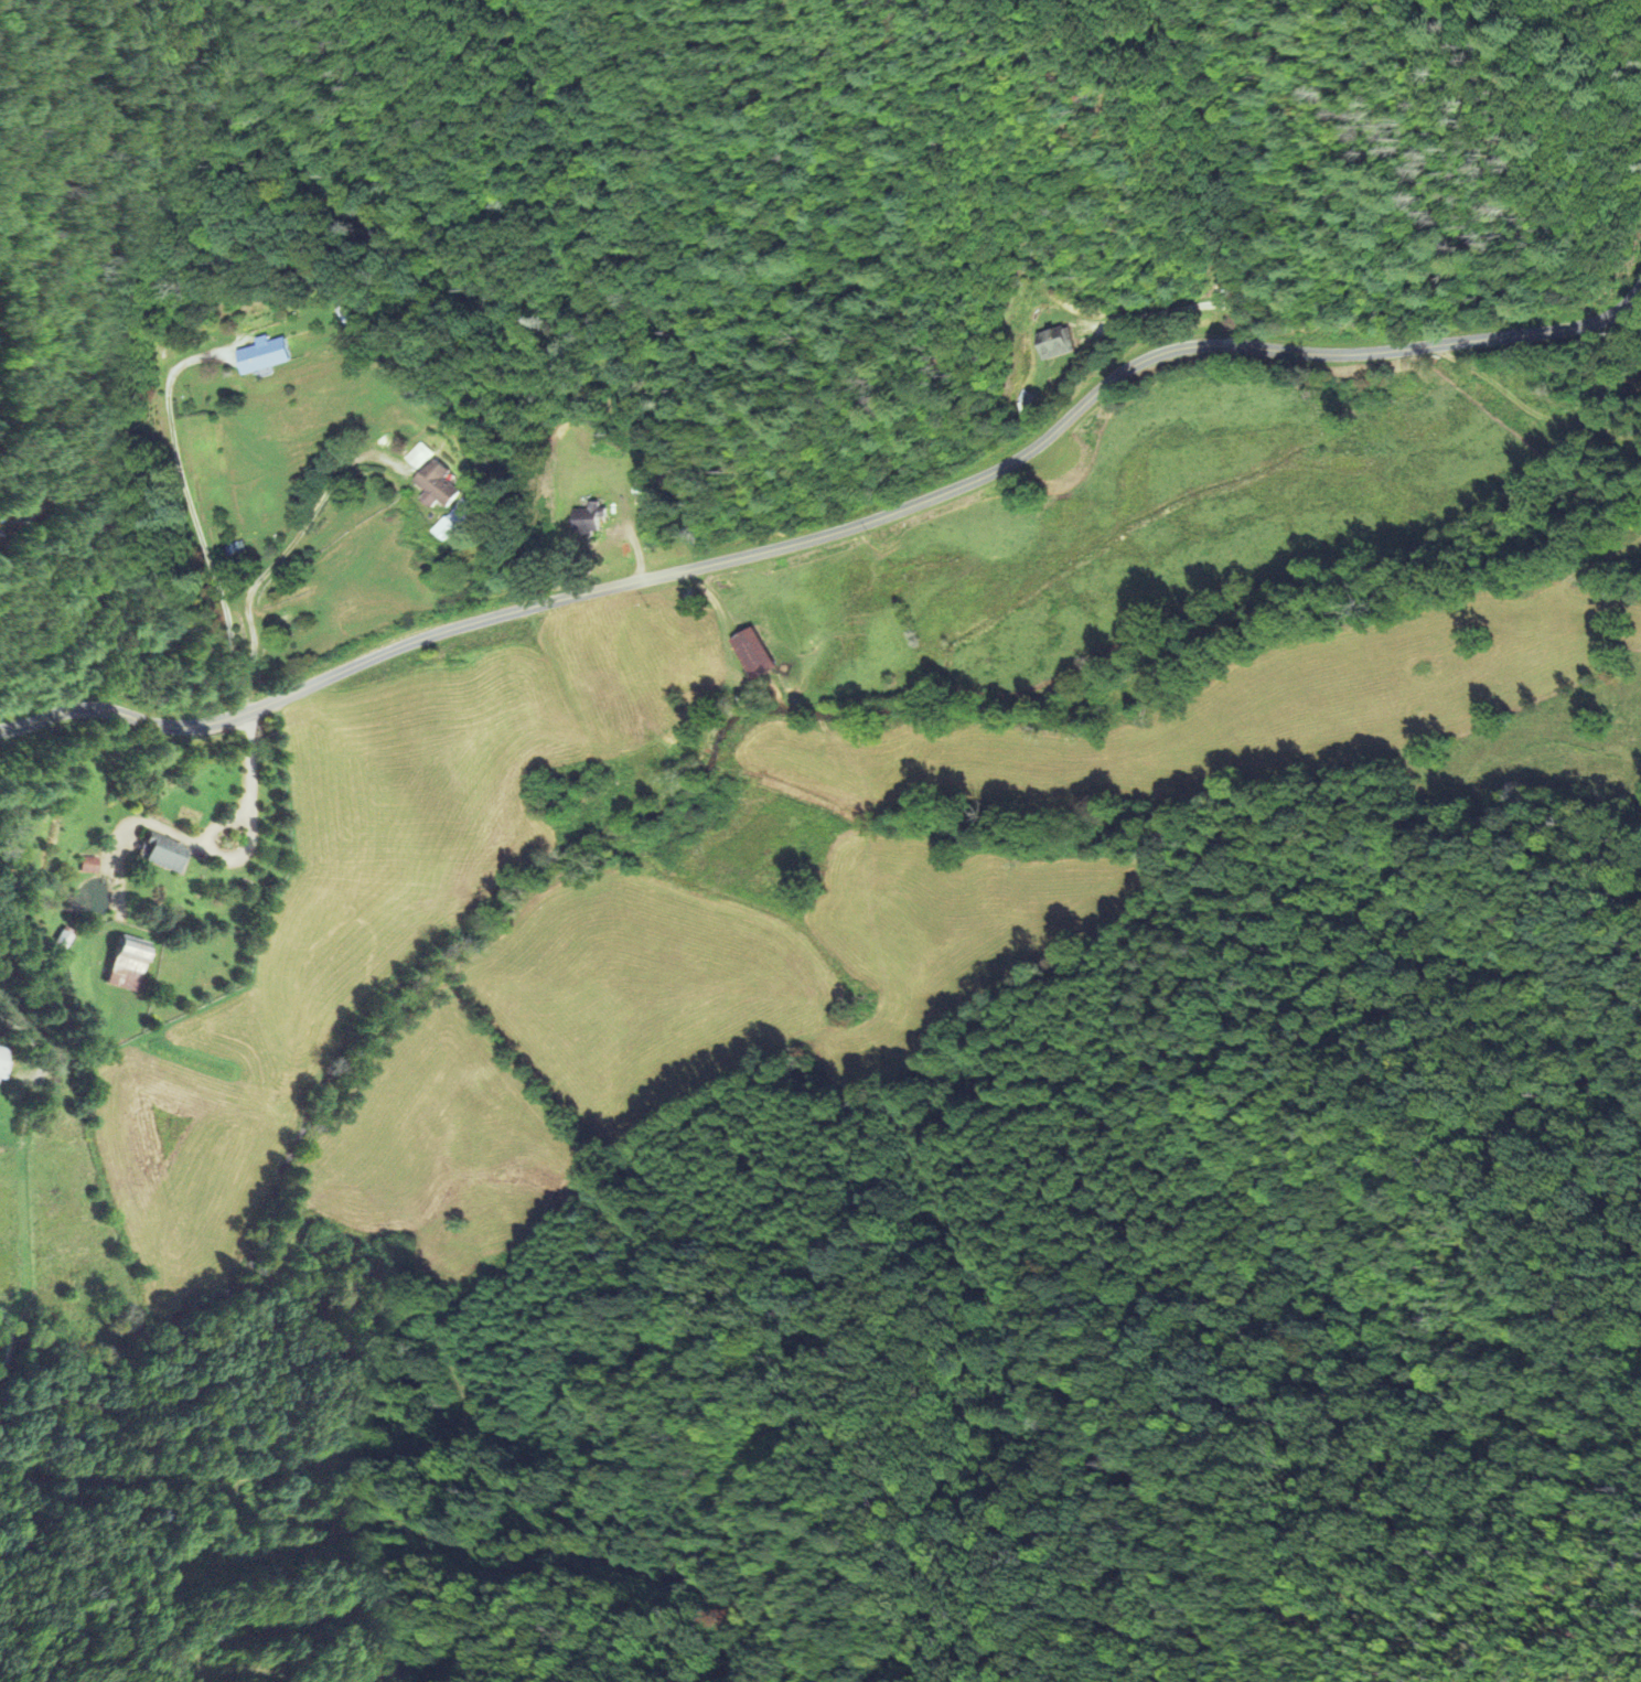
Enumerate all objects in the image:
building: (270, 357)
building: (441, 488)
building: (594, 523)
road: (836, 535)
road: (244, 652)
building: (759, 656)
building: (163, 856)
building: (90, 868)
building: (129, 966)
building: (2, 1068)
road: (4, 1325)
road: (2, 1349)
road: (0, 1359)

